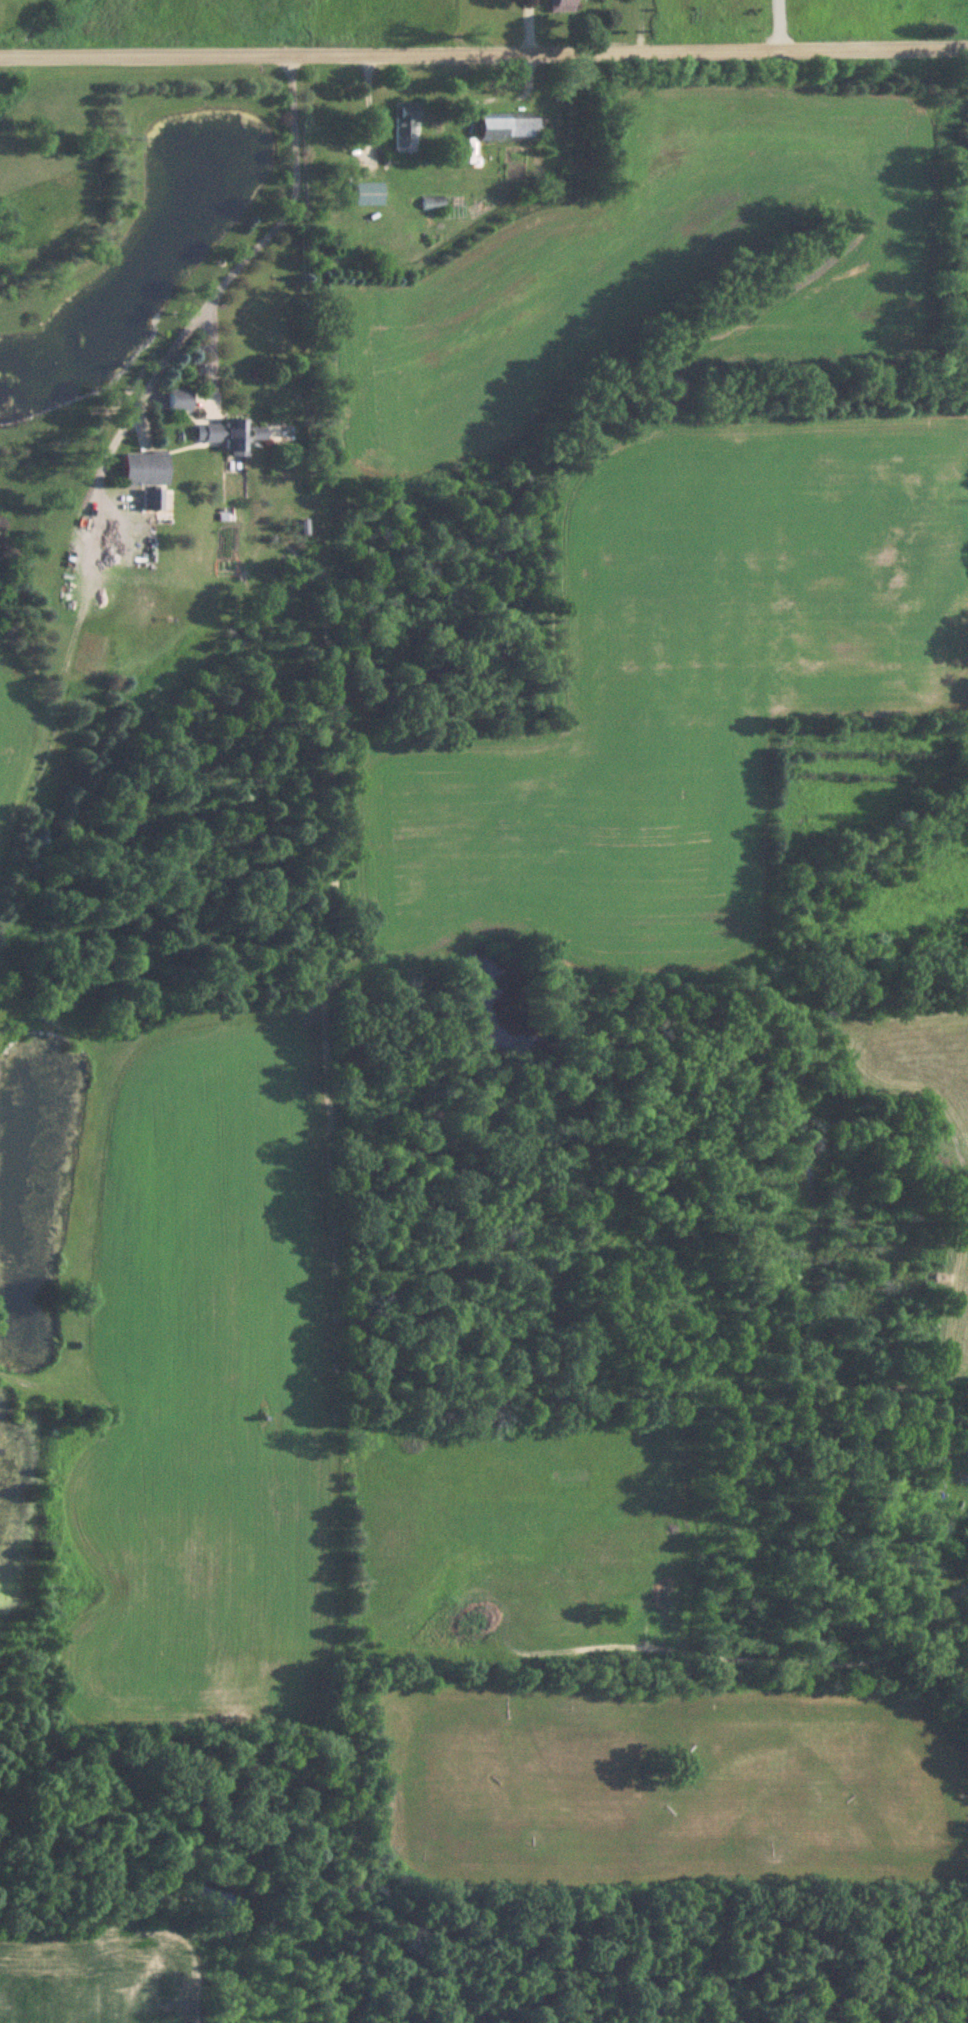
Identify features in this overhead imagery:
building: (563, 7)
road: (529, 24)
road: (484, 49)
building: (406, 126)
building: (512, 130)
building: (358, 232)
road: (215, 305)
building: (181, 401)
building: (233, 436)
building: (146, 470)
building: (156, 501)

